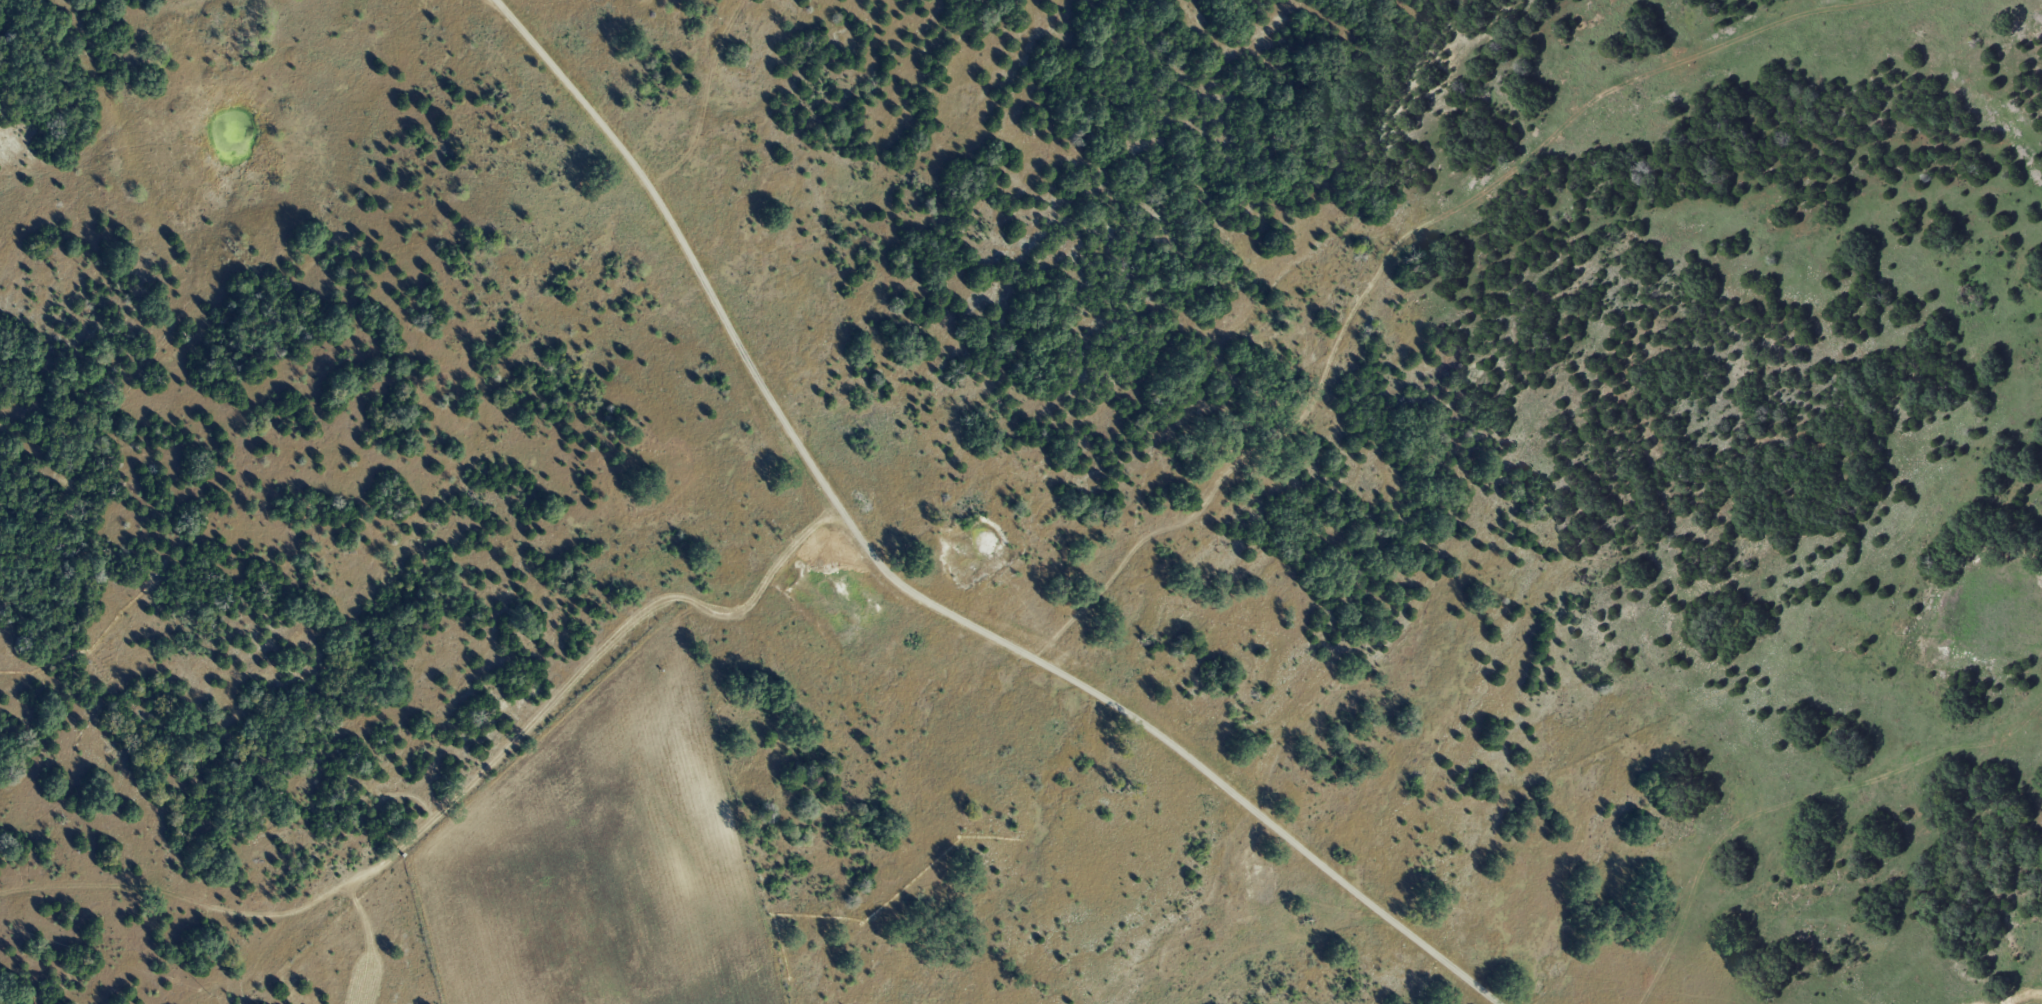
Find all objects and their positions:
road: (910, 587)

